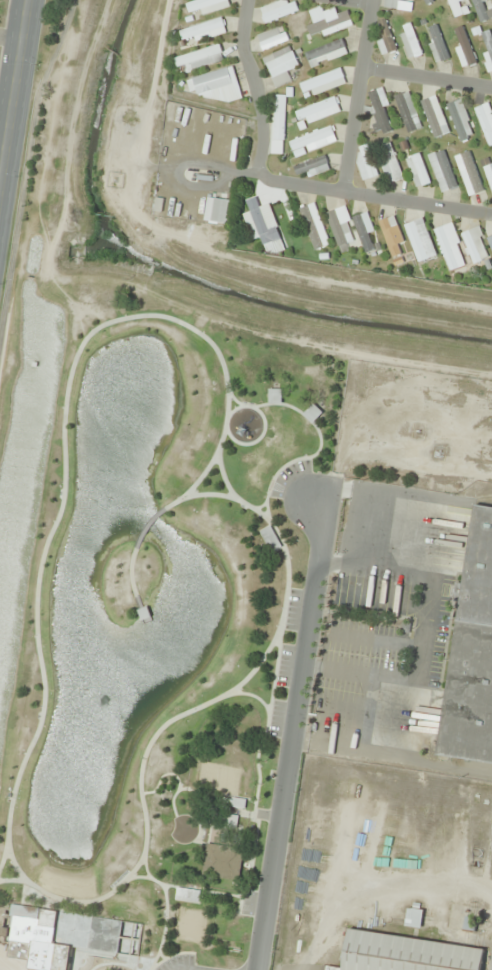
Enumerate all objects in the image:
building: (429, 1)
road: (357, 2)
building: (396, 4)
building: (207, 6)
building: (458, 7)
building: (278, 10)
building: (481, 10)
building: (329, 22)
building: (204, 31)
building: (386, 36)
road: (11, 38)
building: (272, 38)
building: (410, 41)
building: (437, 43)
building: (488, 47)
building: (465, 49)
building: (326, 53)
building: (201, 58)
building: (281, 66)
road: (426, 82)
road: (255, 83)
building: (323, 83)
building: (215, 86)
road: (356, 96)
road: (13, 97)
building: (318, 111)
building: (380, 111)
building: (408, 112)
building: (435, 117)
building: (460, 120)
building: (486, 122)
building: (279, 124)
building: (313, 140)
road: (25, 162)
building: (366, 162)
building: (390, 164)
building: (313, 166)
building: (418, 170)
building: (443, 171)
building: (488, 172)
building: (469, 173)
road: (372, 197)
building: (221, 211)
building: (264, 226)
building: (315, 226)
building: (341, 226)
building: (391, 235)
building: (420, 240)
building: (476, 245)
building: (451, 247)
road: (226, 386)
building: (275, 396)
road: (231, 410)
building: (313, 413)
road: (318, 439)
road: (254, 440)
road: (201, 475)
road: (198, 495)
road: (146, 525)
building: (271, 539)
road: (130, 578)
park: (147, 620)
building: (472, 653)
road: (246, 694)
road: (291, 739)
road: (256, 774)
road: (174, 777)
park: (216, 778)
road: (215, 794)
building: (239, 803)
building: (227, 827)
building: (361, 847)
building: (221, 861)
road: (13, 865)
road: (144, 867)
road: (200, 891)
road: (165, 909)
building: (414, 918)
park: (189, 926)
building: (63, 935)
building: (406, 954)
road: (159, 956)
road: (168, 956)
parking lot: (180, 964)

